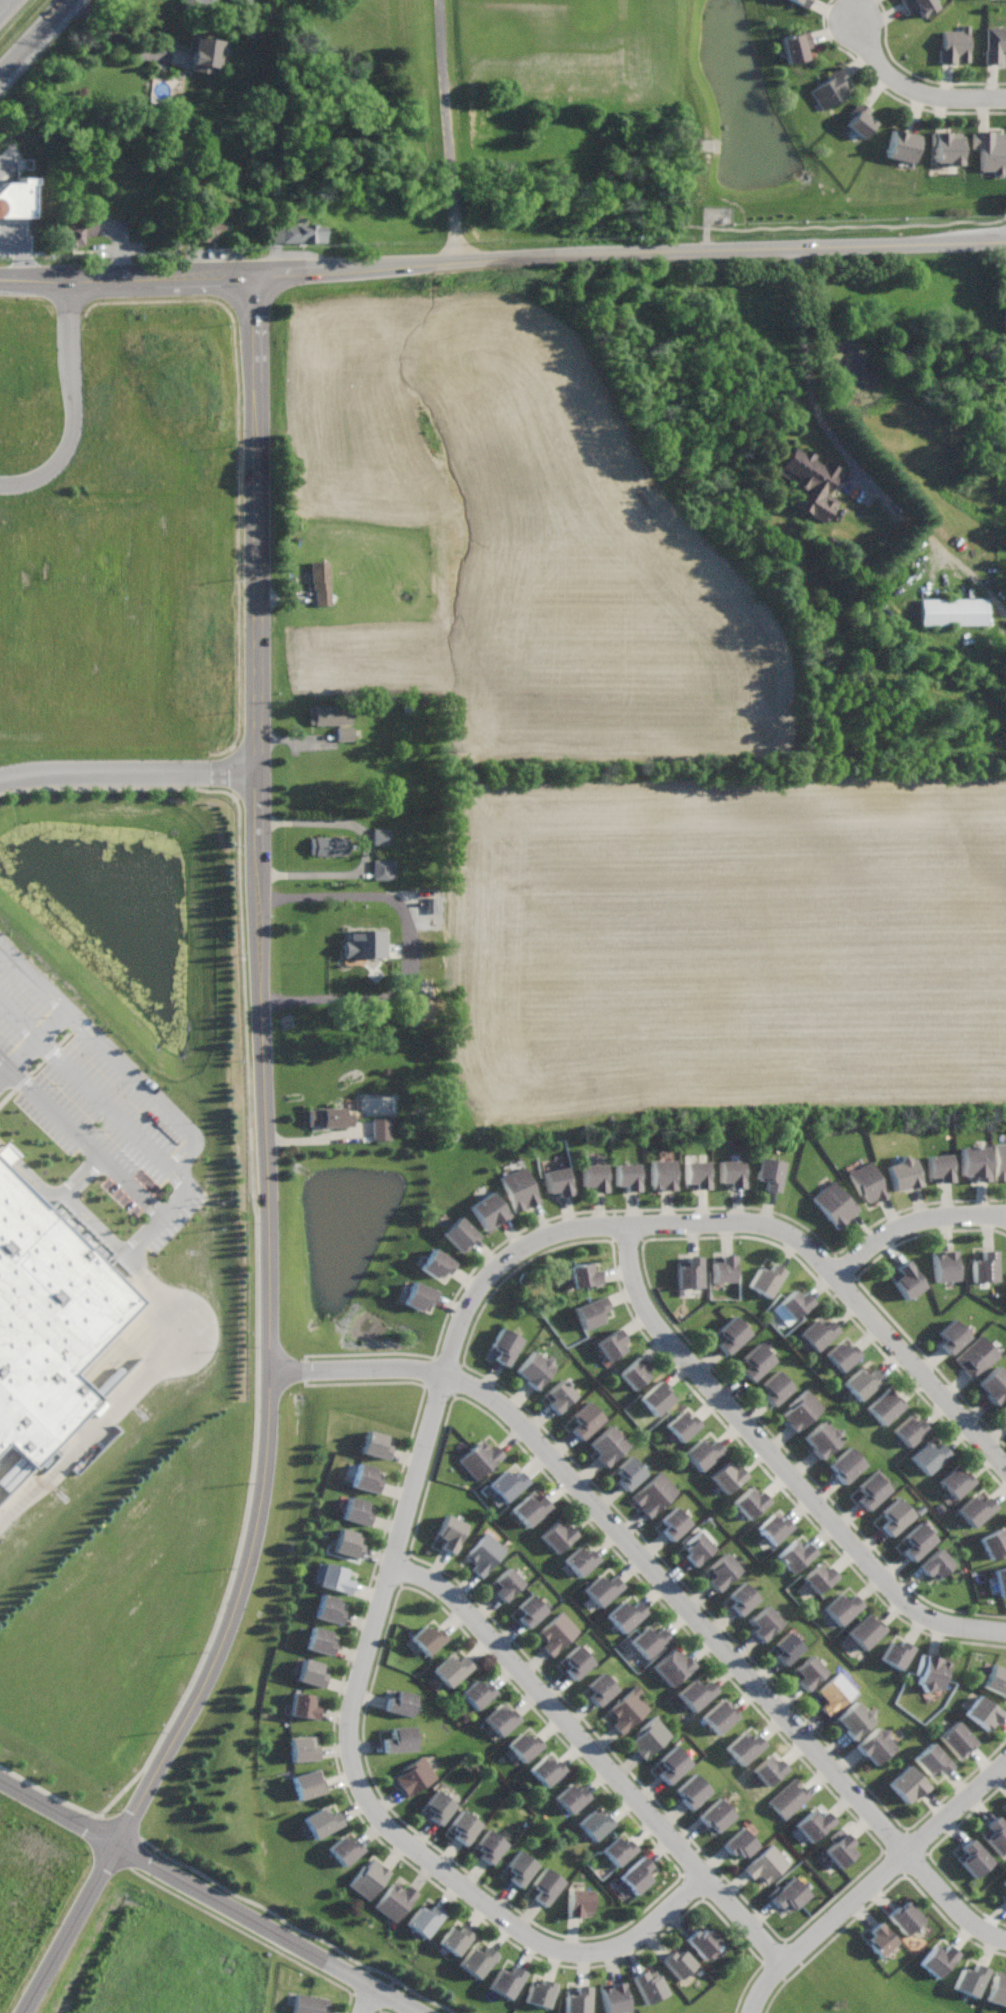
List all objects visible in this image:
building: (242, 0)
road: (1, 1)
building: (200, 1)
building: (803, 2)
building: (919, 5)
road: (34, 37)
road: (118, 38)
building: (995, 42)
building: (955, 45)
building: (795, 47)
building: (205, 55)
building: (830, 88)
road: (914, 91)
building: (859, 119)
road: (446, 130)
building: (903, 146)
building: (948, 148)
building: (990, 149)
road: (3, 162)
building: (16, 198)
building: (208, 227)
building: (77, 231)
building: (296, 234)
road: (630, 251)
road: (18, 253)
road: (128, 275)
building: (1005, 322)
road: (809, 371)
road: (79, 406)
building: (812, 483)
building: (321, 583)
building: (953, 612)
building: (329, 715)
building: (345, 734)
road: (128, 772)
building: (381, 836)
building: (327, 846)
road: (369, 847)
road: (258, 865)
building: (382, 871)
building: (366, 944)
road: (409, 949)
road: (34, 1045)
road: (5, 1066)
road: (87, 1087)
road: (154, 1091)
road: (54, 1114)
building: (328, 1117)
building: (381, 1129)
road: (316, 1139)
building: (1000, 1160)
building: (975, 1163)
building: (939, 1167)
building: (730, 1172)
building: (661, 1173)
building: (696, 1173)
building: (769, 1173)
building: (903, 1173)
building: (628, 1175)
building: (593, 1176)
building: (556, 1181)
building: (867, 1181)
road: (129, 1187)
building: (518, 1187)
building: (834, 1202)
building: (488, 1209)
road: (80, 1214)
road: (913, 1222)
road: (611, 1227)
building: (460, 1234)
building: (436, 1263)
building: (945, 1265)
building: (984, 1267)
building: (723, 1268)
building: (689, 1271)
building: (585, 1275)
building: (765, 1279)
building: (907, 1279)
building: (419, 1295)
building: (791, 1306)
building: (589, 1311)
building: (48, 1322)
building: (731, 1333)
building: (815, 1333)
building: (952, 1334)
building: (612, 1344)
building: (503, 1345)
building: (840, 1355)
building: (976, 1356)
building: (755, 1361)
road: (921, 1367)
building: (535, 1369)
building: (635, 1373)
building: (861, 1381)
building: (994, 1385)
building: (775, 1387)
building: (560, 1396)
building: (655, 1397)
road: (122, 1404)
building: (884, 1406)
building: (1004, 1409)
building: (802, 1410)
building: (585, 1418)
building: (682, 1425)
building: (909, 1430)
building: (821, 1439)
building: (374, 1444)
building: (608, 1445)
road: (761, 1445)
building: (702, 1453)
building: (927, 1455)
building: (480, 1456)
building: (846, 1465)
building: (628, 1472)
building: (726, 1476)
building: (365, 1477)
building: (954, 1481)
building: (506, 1485)
building: (871, 1490)
building: (654, 1493)
building: (749, 1502)
building: (531, 1508)
building: (973, 1508)
building: (356, 1510)
building: (895, 1516)
building: (673, 1522)
building: (774, 1527)
building: (450, 1533)
building: (557, 1535)
building: (916, 1540)
building: (348, 1543)
building: (994, 1543)
building: (696, 1548)
building: (484, 1554)
building: (795, 1555)
building: (580, 1560)
building: (935, 1564)
building: (721, 1571)
building: (332, 1577)
building: (819, 1577)
building: (1001, 1579)
building: (506, 1582)
road: (670, 1584)
building: (603, 1589)
building: (741, 1598)
building: (841, 1606)
building: (328, 1608)
building: (529, 1609)
building: (625, 1613)
building: (764, 1623)
building: (866, 1630)
building: (558, 1632)
building: (427, 1637)
building: (318, 1639)
building: (649, 1639)
building: (786, 1648)
building: (895, 1654)
building: (576, 1660)
building: (672, 1666)
building: (450, 1667)
building: (931, 1671)
building: (310, 1672)
building: (808, 1672)
building: (996, 1679)
building: (600, 1687)
building: (478, 1693)
building: (695, 1693)
building: (836, 1693)
building: (400, 1702)
building: (301, 1705)
building: (628, 1709)
building: (982, 1711)
building: (719, 1715)
building: (502, 1719)
building: (854, 1720)
building: (649, 1735)
building: (399, 1738)
building: (956, 1739)
building: (523, 1744)
road: (168, 1745)
building: (875, 1745)
building: (744, 1746)
building: (303, 1748)
road: (597, 1749)
building: (932, 1761)
building: (672, 1762)
building: (547, 1769)
building: (770, 1769)
building: (414, 1775)
building: (307, 1783)
building: (908, 1783)
road: (364, 1789)
building: (692, 1789)
building: (570, 1796)
building: (789, 1798)
building: (437, 1806)
road: (57, 1811)
building: (716, 1814)
building: (321, 1820)
building: (594, 1823)
building: (813, 1823)
building: (463, 1826)
building: (996, 1834)
building: (741, 1843)
building: (489, 1844)
building: (839, 1847)
building: (617, 1848)
building: (343, 1849)
building: (972, 1857)
building: (766, 1864)
building: (518, 1867)
building: (635, 1876)
building: (369, 1878)
building: (1004, 1882)
building: (545, 1883)
road: (877, 1887)
building: (1005, 1889)
building: (788, 1893)
building: (396, 1900)
building: (578, 1901)
building: (903, 1917)
building: (424, 1918)
road: (272, 1928)
building: (454, 1939)
building: (878, 1939)
building: (702, 1941)
building: (477, 1959)
building: (936, 1960)
building: (678, 1962)
building: (506, 1979)
building: (968, 1979)
building: (649, 1985)
building: (997, 1988)
building: (539, 1992)
building: (615, 1996)
road: (373, 2000)
building: (576, 2000)
building: (308, 2003)

